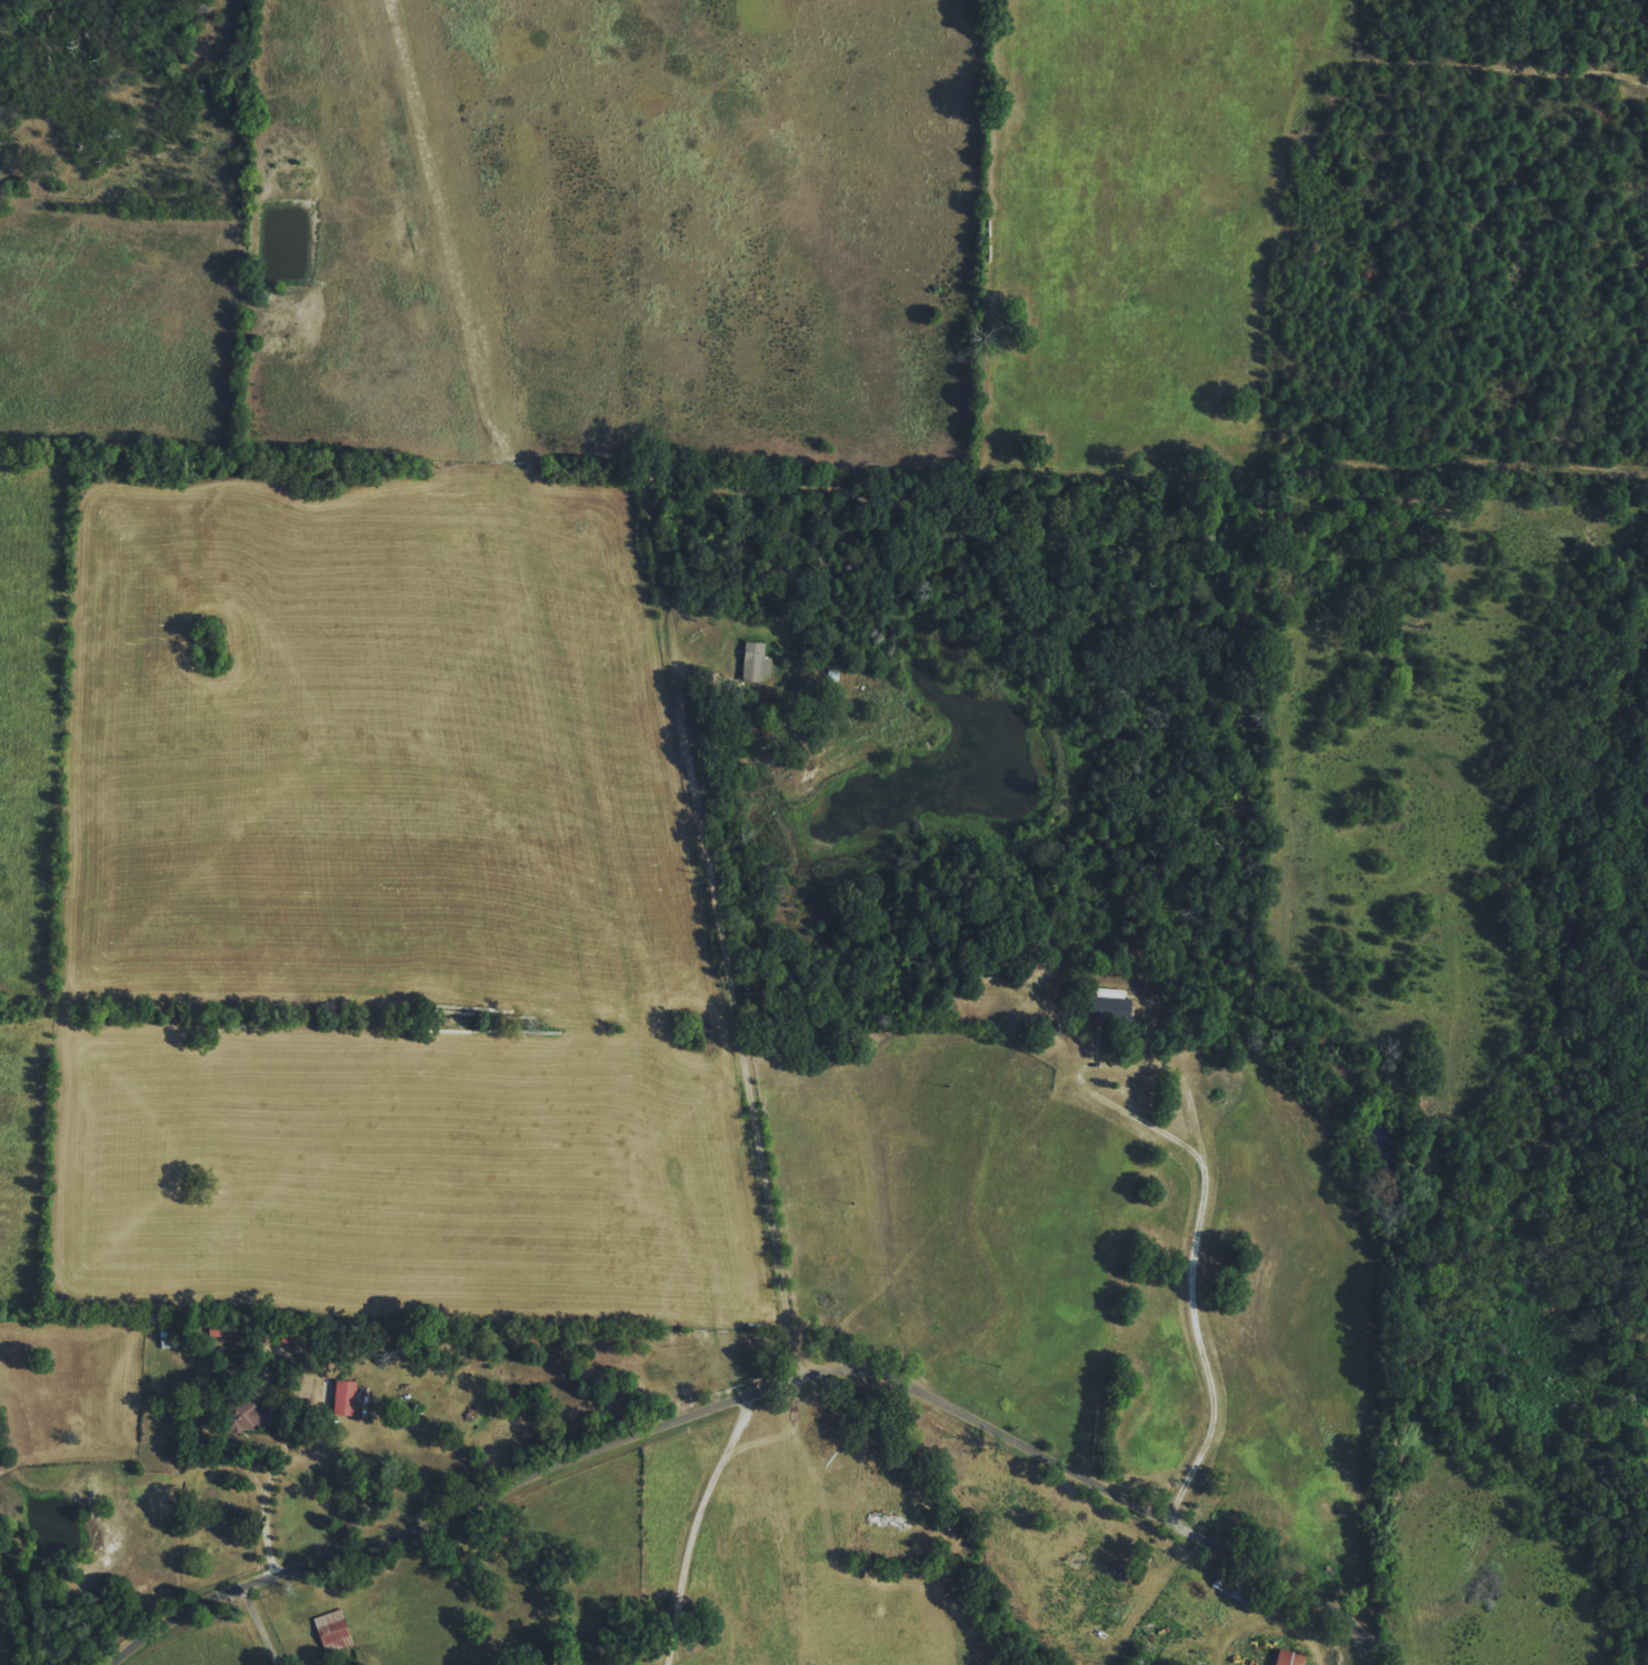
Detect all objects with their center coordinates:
building: (751, 661)
building: (1105, 1005)
road: (757, 1038)
road: (1209, 1245)
road: (761, 1385)
building: (347, 1398)
building: (254, 1414)
road: (695, 1523)
road: (259, 1626)
building: (331, 1628)
building: (1282, 1658)

